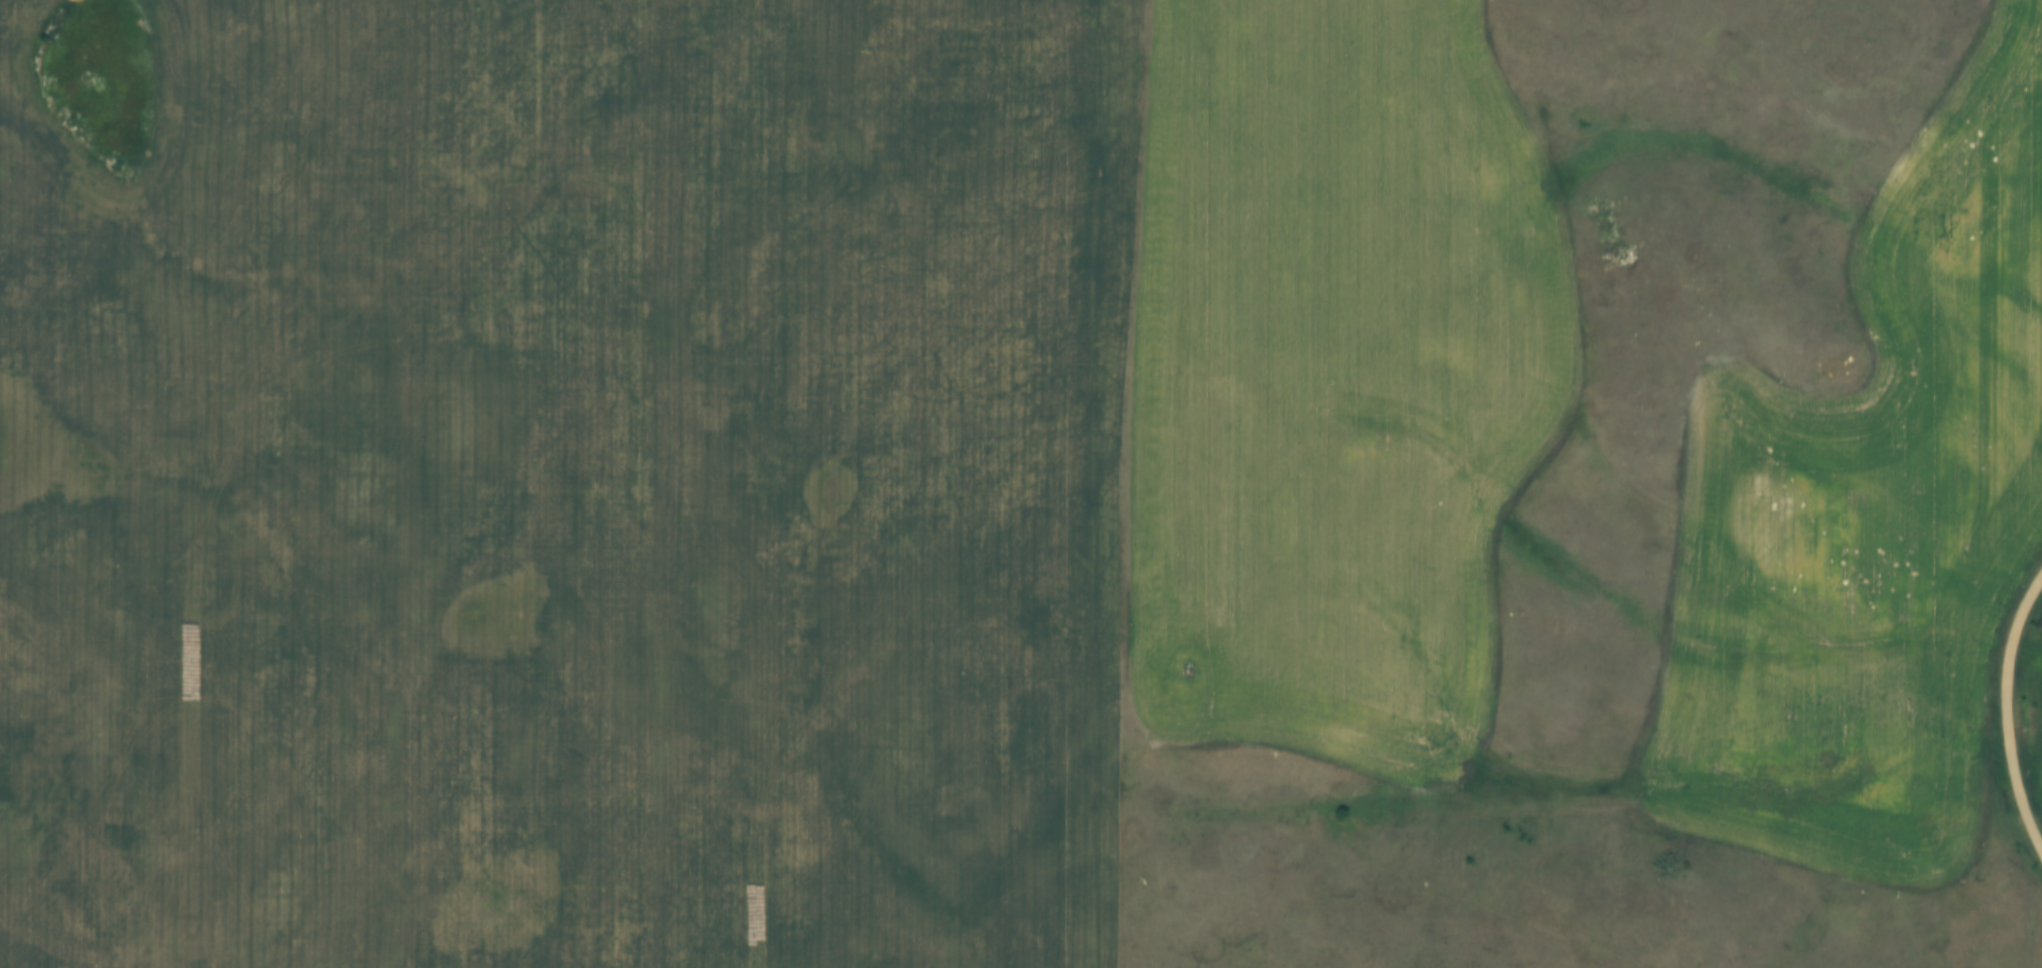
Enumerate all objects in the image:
road: (2011, 709)

